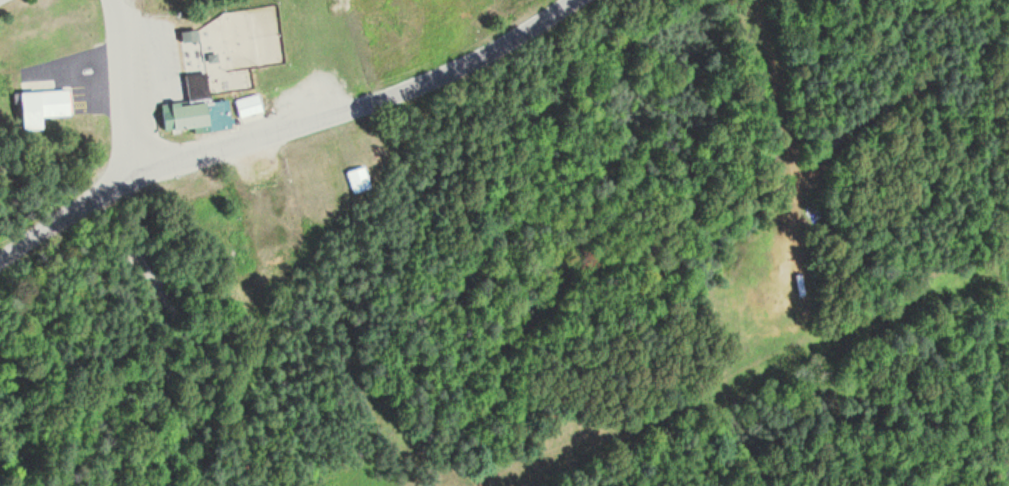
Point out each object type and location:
building: (192, 65)
road: (119, 87)
building: (246, 105)
building: (40, 106)
building: (183, 115)
road: (283, 125)
building: (357, 179)

